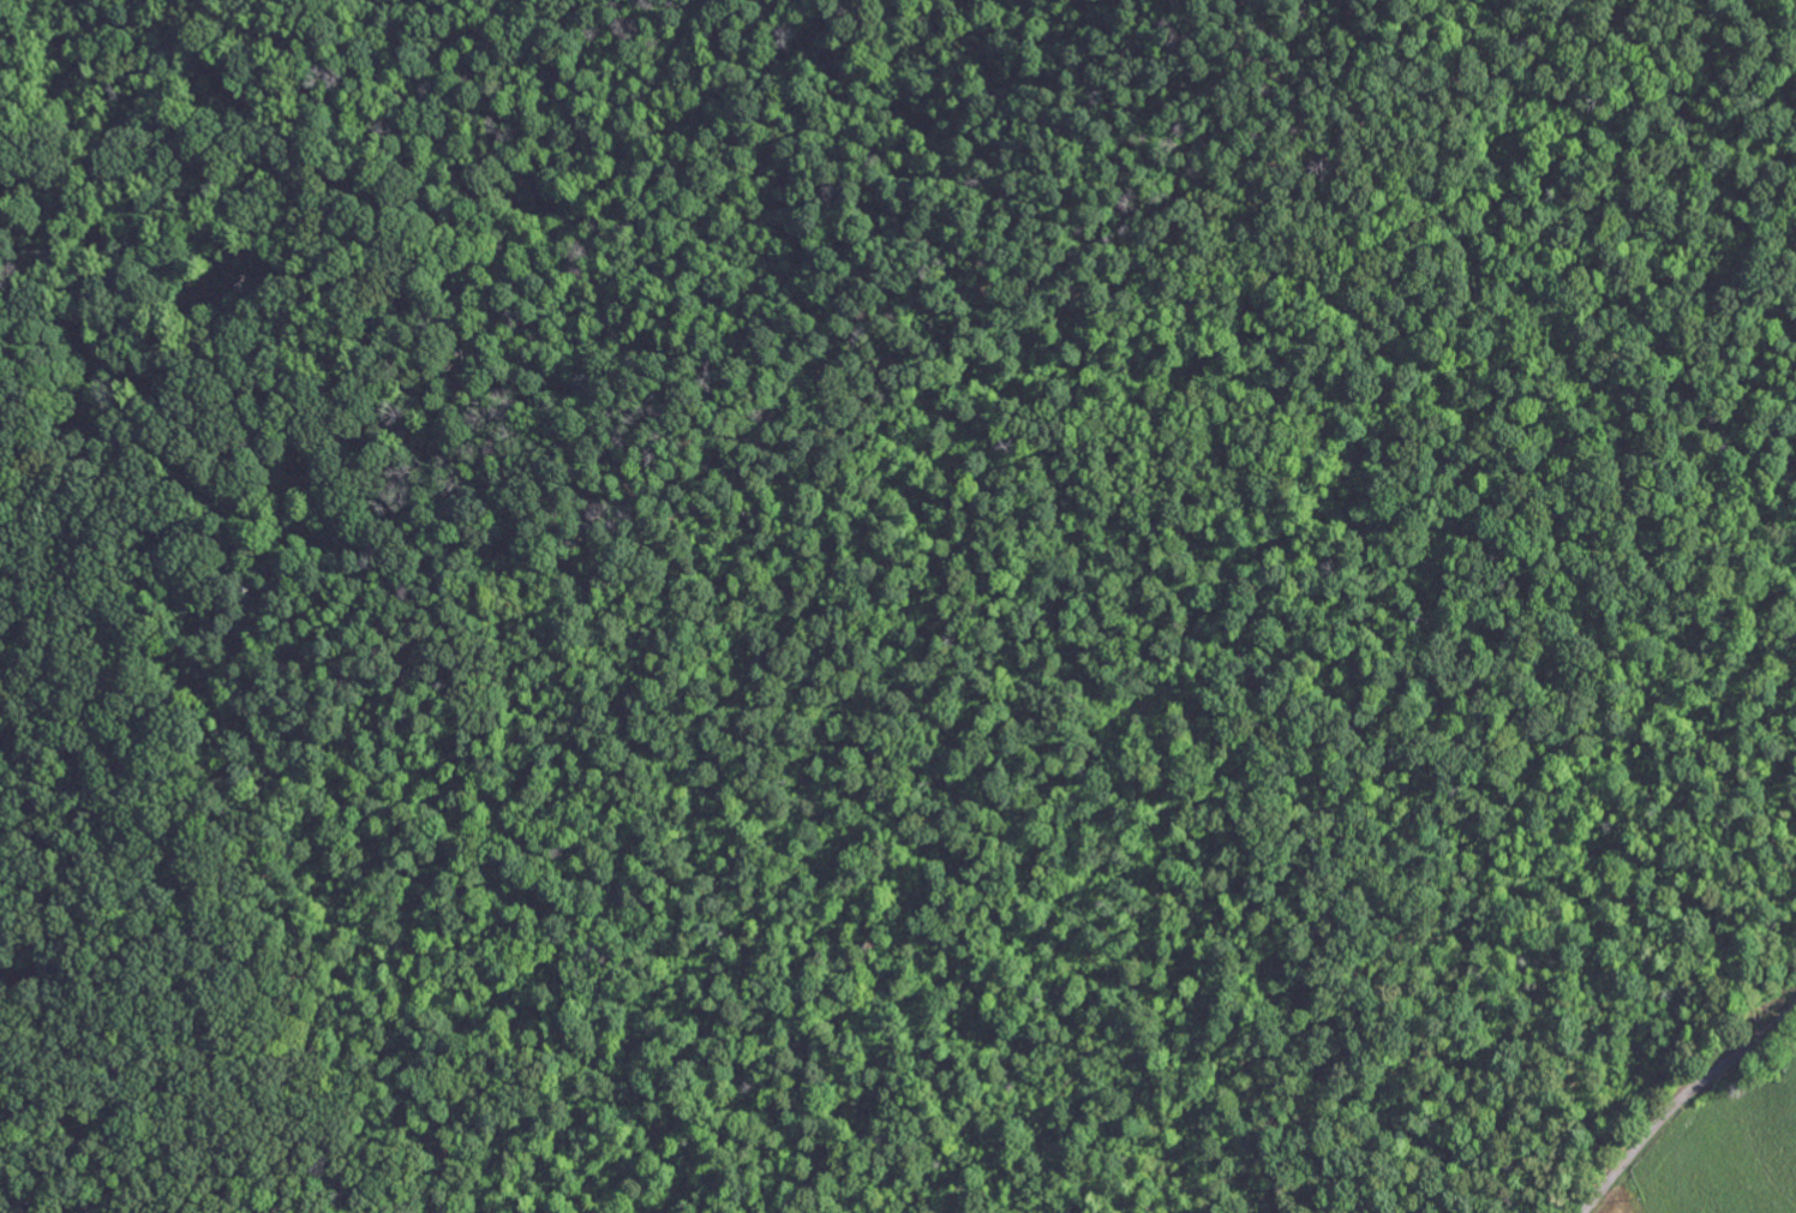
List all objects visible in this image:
road: (1681, 1101)

